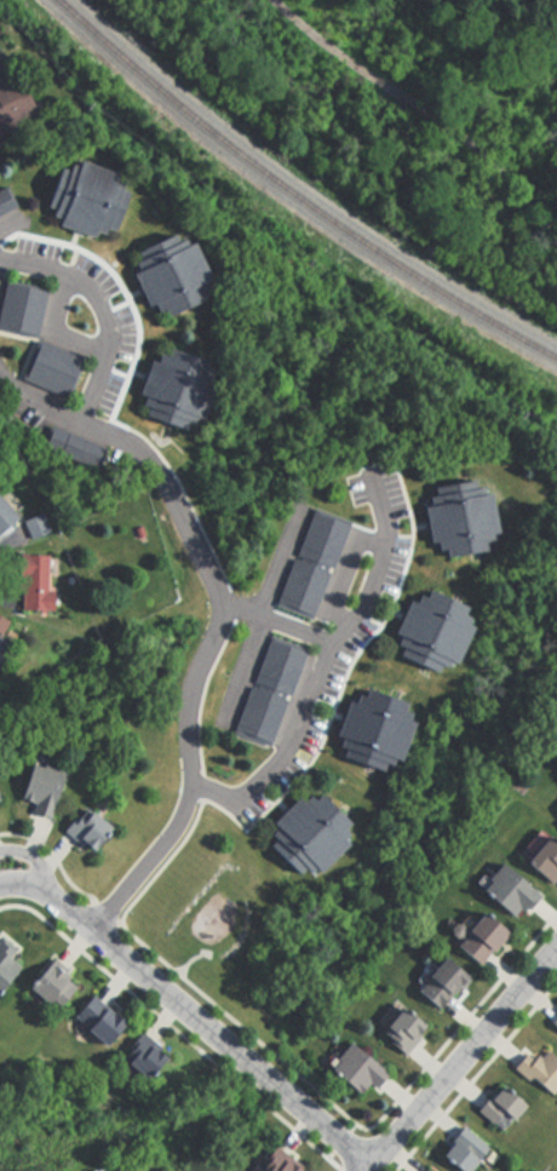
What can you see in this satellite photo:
road: (338, 42)
park: (402, 109)
building: (12, 110)
road: (482, 148)
railway: (294, 194)
building: (4, 201)
building: (23, 303)
parking lot: (119, 337)
building: (54, 364)
building: (157, 374)
road: (122, 388)
road: (34, 403)
building: (76, 443)
building: (4, 517)
building: (459, 517)
building: (38, 521)
road: (199, 553)
road: (278, 563)
building: (310, 563)
road: (377, 564)
building: (31, 581)
road: (229, 605)
building: (431, 631)
building: (1, 638)
road: (241, 668)
road: (340, 682)
building: (269, 690)
road: (200, 695)
road: (305, 696)
building: (372, 728)
building: (38, 787)
road: (201, 787)
building: (555, 817)
building: (81, 828)
building: (309, 833)
road: (52, 857)
building: (540, 857)
road: (31, 860)
road: (163, 865)
road: (19, 883)
building: (505, 891)
park: (202, 905)
road: (103, 912)
building: (475, 936)
building: (5, 957)
road: (189, 959)
building: (438, 985)
building: (46, 986)
building: (92, 1020)
building: (553, 1020)
road: (460, 1022)
road: (203, 1026)
road: (237, 1027)
road: (171, 1028)
building: (398, 1031)
building: (137, 1058)
road: (458, 1058)
building: (351, 1068)
building: (538, 1068)
road: (475, 1074)
building: (496, 1107)
building: (458, 1149)
road: (348, 1153)
building: (277, 1160)
building: (425, 1170)

